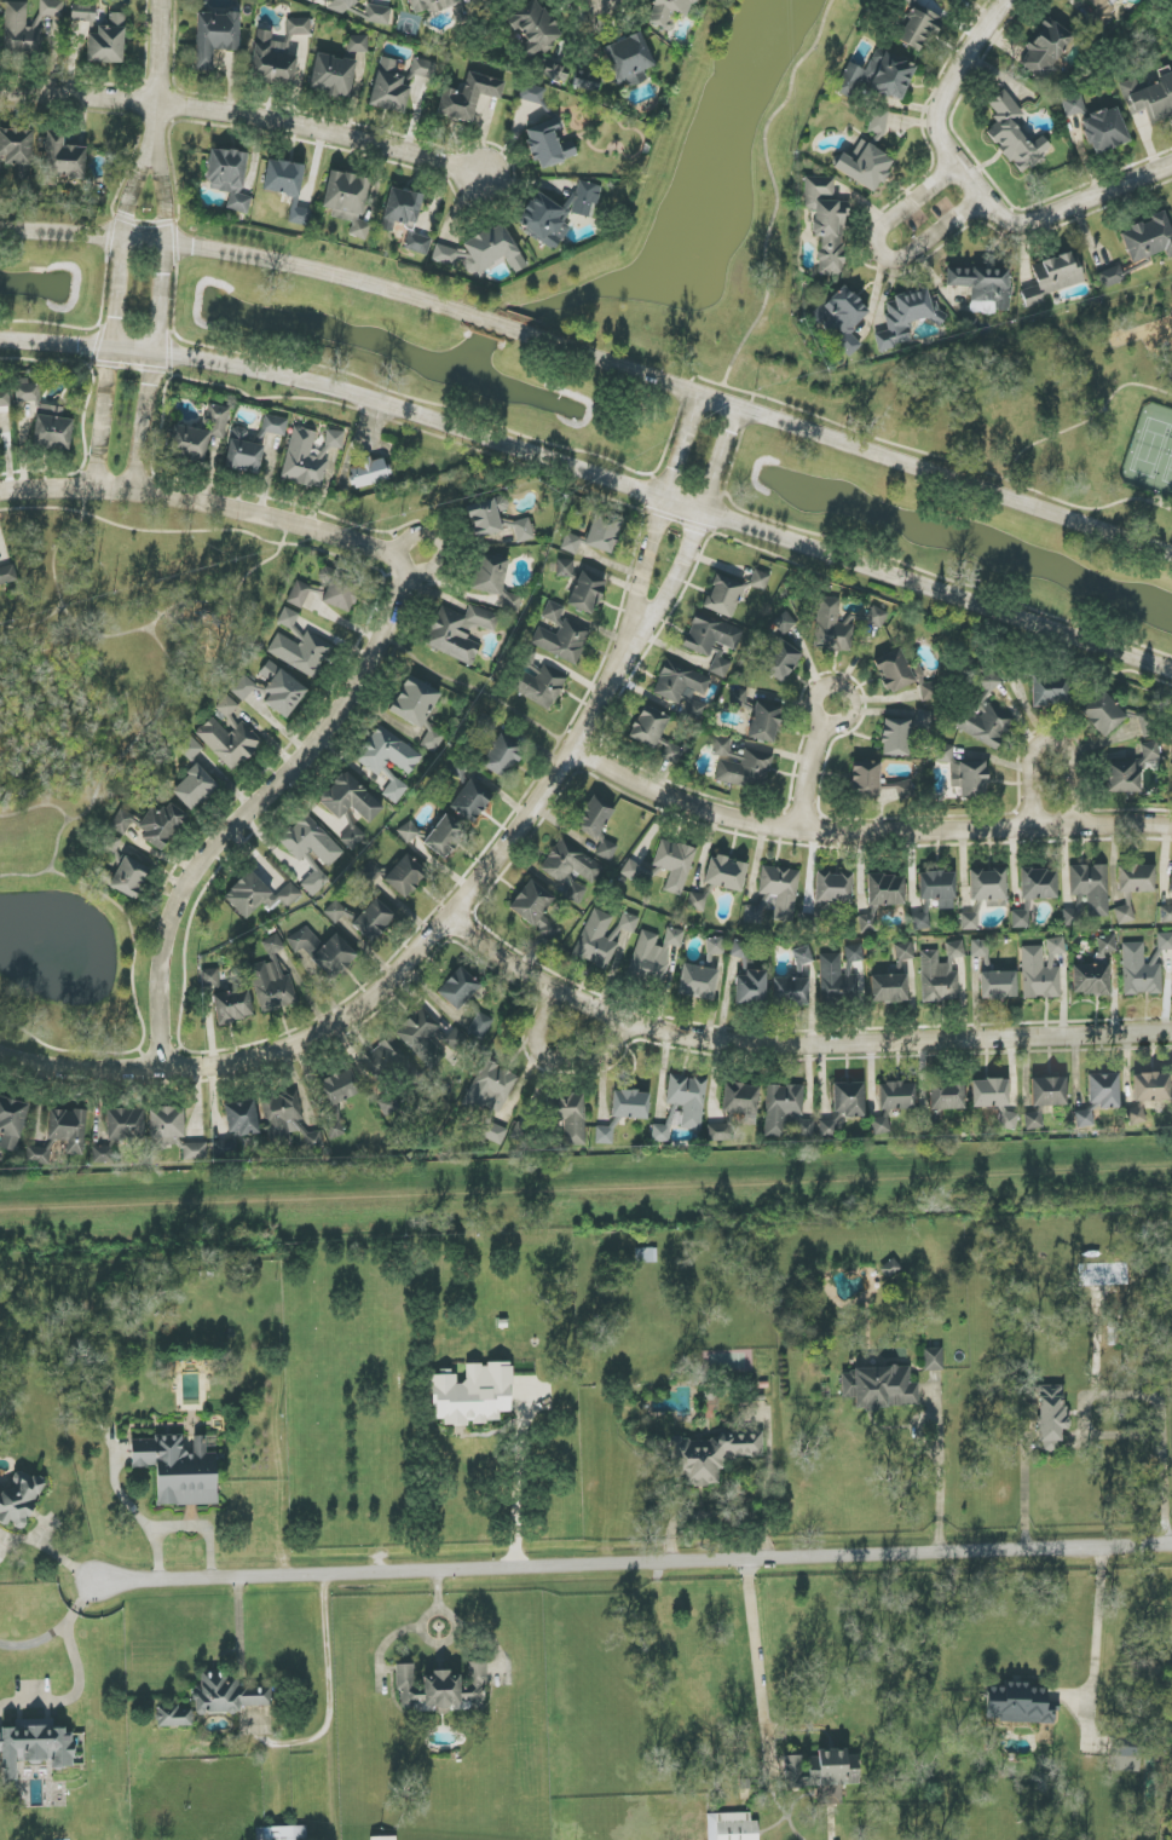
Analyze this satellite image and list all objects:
building: (342, 5)
building: (431, 5)
building: (52, 8)
building: (83, 11)
building: (665, 12)
building: (1102, 12)
building: (379, 15)
building: (299, 27)
building: (533, 27)
building: (918, 28)
building: (21, 30)
building: (215, 36)
building: (108, 41)
building: (358, 44)
building: (1045, 50)
building: (273, 58)
building: (628, 59)
building: (421, 70)
building: (333, 75)
building: (878, 76)
road: (161, 77)
building: (388, 88)
building: (532, 93)
road: (946, 96)
building: (468, 97)
building: (1149, 98)
building: (1073, 105)
road: (242, 123)
building: (1104, 131)
building: (1015, 134)
building: (548, 145)
building: (17, 151)
building: (62, 160)
building: (864, 166)
building: (229, 177)
building: (283, 178)
road: (774, 188)
road: (134, 192)
road: (162, 197)
building: (348, 201)
road: (1074, 207)
building: (402, 209)
building: (558, 213)
building: (826, 224)
road: (60, 232)
road: (143, 238)
building: (1148, 238)
building: (418, 243)
building: (483, 252)
road: (877, 253)
road: (324, 271)
building: (1113, 276)
building: (1052, 277)
building: (983, 284)
road: (121, 292)
road: (164, 298)
building: (906, 317)
building: (842, 318)
road: (504, 325)
road: (57, 345)
road: (135, 351)
building: (5, 398)
building: (34, 398)
road: (752, 403)
road: (100, 417)
road: (1085, 422)
road: (148, 423)
building: (275, 425)
building: (52, 432)
building: (200, 434)
road: (849, 445)
road: (681, 446)
park: (1151, 448)
building: (243, 452)
road: (925, 452)
building: (308, 456)
road: (722, 460)
park: (1168, 472)
building: (369, 473)
road: (668, 501)
road: (206, 504)
building: (496, 520)
road: (204, 530)
building: (604, 532)
road: (439, 543)
building: (571, 543)
building: (565, 567)
road: (643, 567)
building: (489, 573)
building: (7, 575)
road: (675, 578)
building: (760, 581)
building: (340, 588)
building: (587, 593)
building: (299, 594)
building: (724, 594)
building: (510, 601)
building: (288, 618)
building: (784, 623)
road: (33, 624)
building: (841, 624)
road: (131, 631)
building: (458, 631)
building: (710, 635)
building: (561, 636)
building: (301, 652)
building: (779, 659)
building: (720, 667)
building: (894, 670)
building: (538, 681)
building: (682, 687)
building: (243, 688)
building: (282, 690)
building: (1049, 691)
building: (740, 697)
building: (415, 702)
building: (226, 706)
building: (1103, 714)
building: (985, 715)
road: (814, 717)
building: (923, 719)
building: (764, 721)
building: (895, 737)
building: (432, 738)
building: (230, 742)
road: (1050, 742)
building: (190, 749)
building: (503, 756)
building: (389, 760)
building: (741, 765)
road: (106, 768)
building: (965, 773)
building: (865, 779)
building: (194, 788)
building: (905, 789)
building: (350, 798)
building: (470, 801)
road: (37, 806)
road: (253, 807)
building: (594, 817)
building: (151, 825)
building: (408, 831)
road: (866, 834)
building: (352, 837)
building: (445, 837)
building: (310, 842)
building: (111, 846)
building: (607, 850)
building: (675, 864)
building: (572, 869)
building: (630, 870)
building: (726, 873)
building: (405, 876)
building: (129, 877)
building: (314, 878)
building: (1136, 878)
building: (1038, 884)
building: (988, 887)
building: (1091, 887)
building: (833, 888)
building: (939, 888)
building: (781, 890)
building: (885, 890)
building: (1170, 890)
road: (105, 895)
building: (258, 895)
building: (695, 901)
building: (536, 909)
building: (337, 912)
building: (755, 912)
building: (1165, 913)
building: (1124, 915)
building: (1072, 917)
building: (373, 919)
building: (1020, 919)
building: (970, 921)
building: (868, 922)
building: (604, 936)
building: (304, 941)
building: (1165, 941)
building: (715, 947)
building: (980, 948)
building: (903, 951)
building: (854, 953)
building: (654, 954)
building: (803, 956)
building: (334, 957)
building: (1041, 969)
building: (1095, 970)
building: (1141, 970)
building: (940, 974)
building: (210, 977)
road: (393, 977)
building: (749, 977)
building: (272, 980)
building: (837, 980)
building: (698, 982)
building: (998, 985)
building: (458, 988)
building: (889, 988)
building: (790, 992)
building: (232, 1005)
building: (480, 1026)
road: (144, 1031)
building: (422, 1038)
building: (456, 1042)
road: (795, 1043)
road: (150, 1059)
road: (559, 1061)
building: (381, 1062)
building: (1151, 1086)
building: (490, 1088)
building: (1049, 1091)
building: (989, 1094)
building: (946, 1095)
building: (896, 1096)
building: (1099, 1096)
building: (688, 1098)
building: (336, 1100)
building: (741, 1101)
building: (389, 1104)
building: (630, 1104)
building: (843, 1107)
building: (786, 1113)
building: (568, 1115)
building: (1136, 1115)
building: (242, 1119)
building: (1008, 1119)
building: (288, 1120)
building: (1033, 1120)
building: (11, 1123)
building: (125, 1125)
building: (167, 1126)
building: (881, 1126)
building: (68, 1129)
building: (720, 1131)
building: (493, 1132)
building: (660, 1134)
building: (605, 1135)
building: (195, 1152)
building: (103, 1154)
building: (39, 1155)
building: (890, 1269)
building: (933, 1359)
building: (879, 1388)
building: (473, 1394)
road: (1136, 1396)
building: (1051, 1417)
building: (709, 1457)
building: (178, 1470)
road: (941, 1476)
road: (516, 1486)
road: (1027, 1489)
building: (19, 1500)
road: (634, 1557)
road: (1098, 1616)
road: (60, 1628)
road: (756, 1644)
building: (441, 1688)
road: (74, 1692)
building: (227, 1694)
road: (331, 1703)
building: (1017, 1705)
building: (174, 1717)
building: (34, 1746)
building: (1126, 1754)
building: (822, 1772)
building: (732, 1827)
building: (282, 1833)

